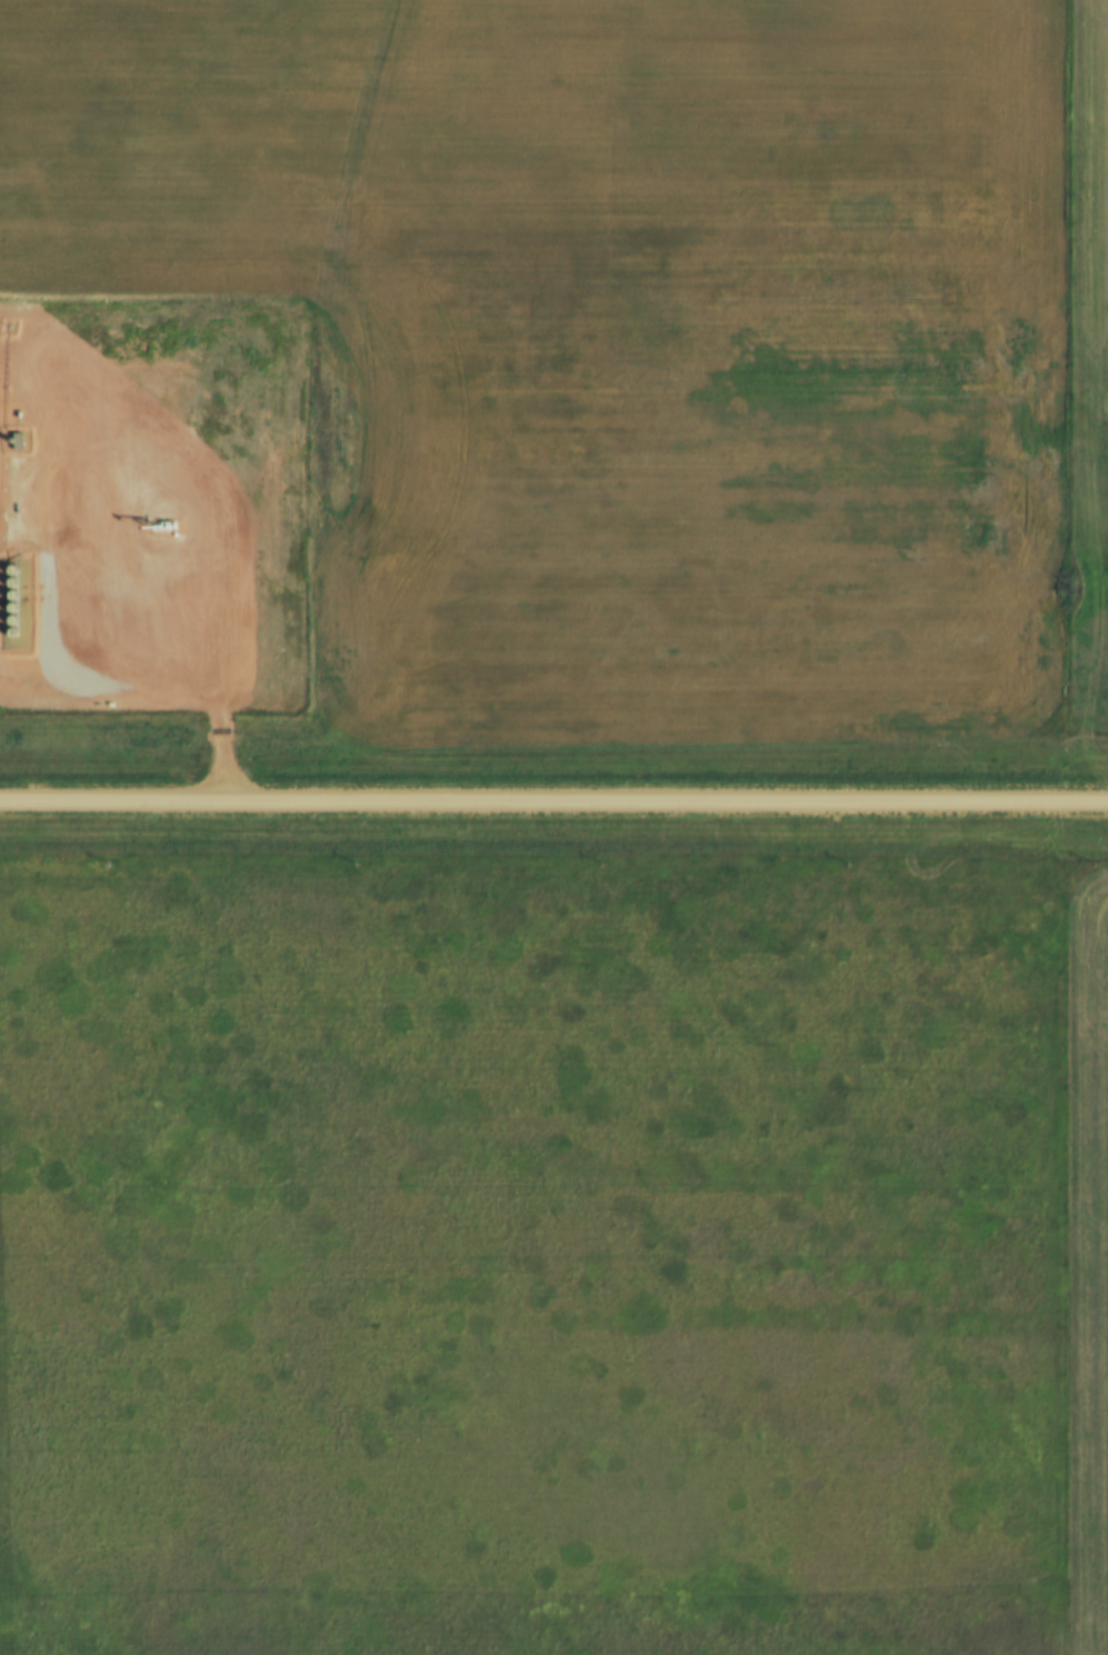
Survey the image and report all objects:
road: (553, 807)

